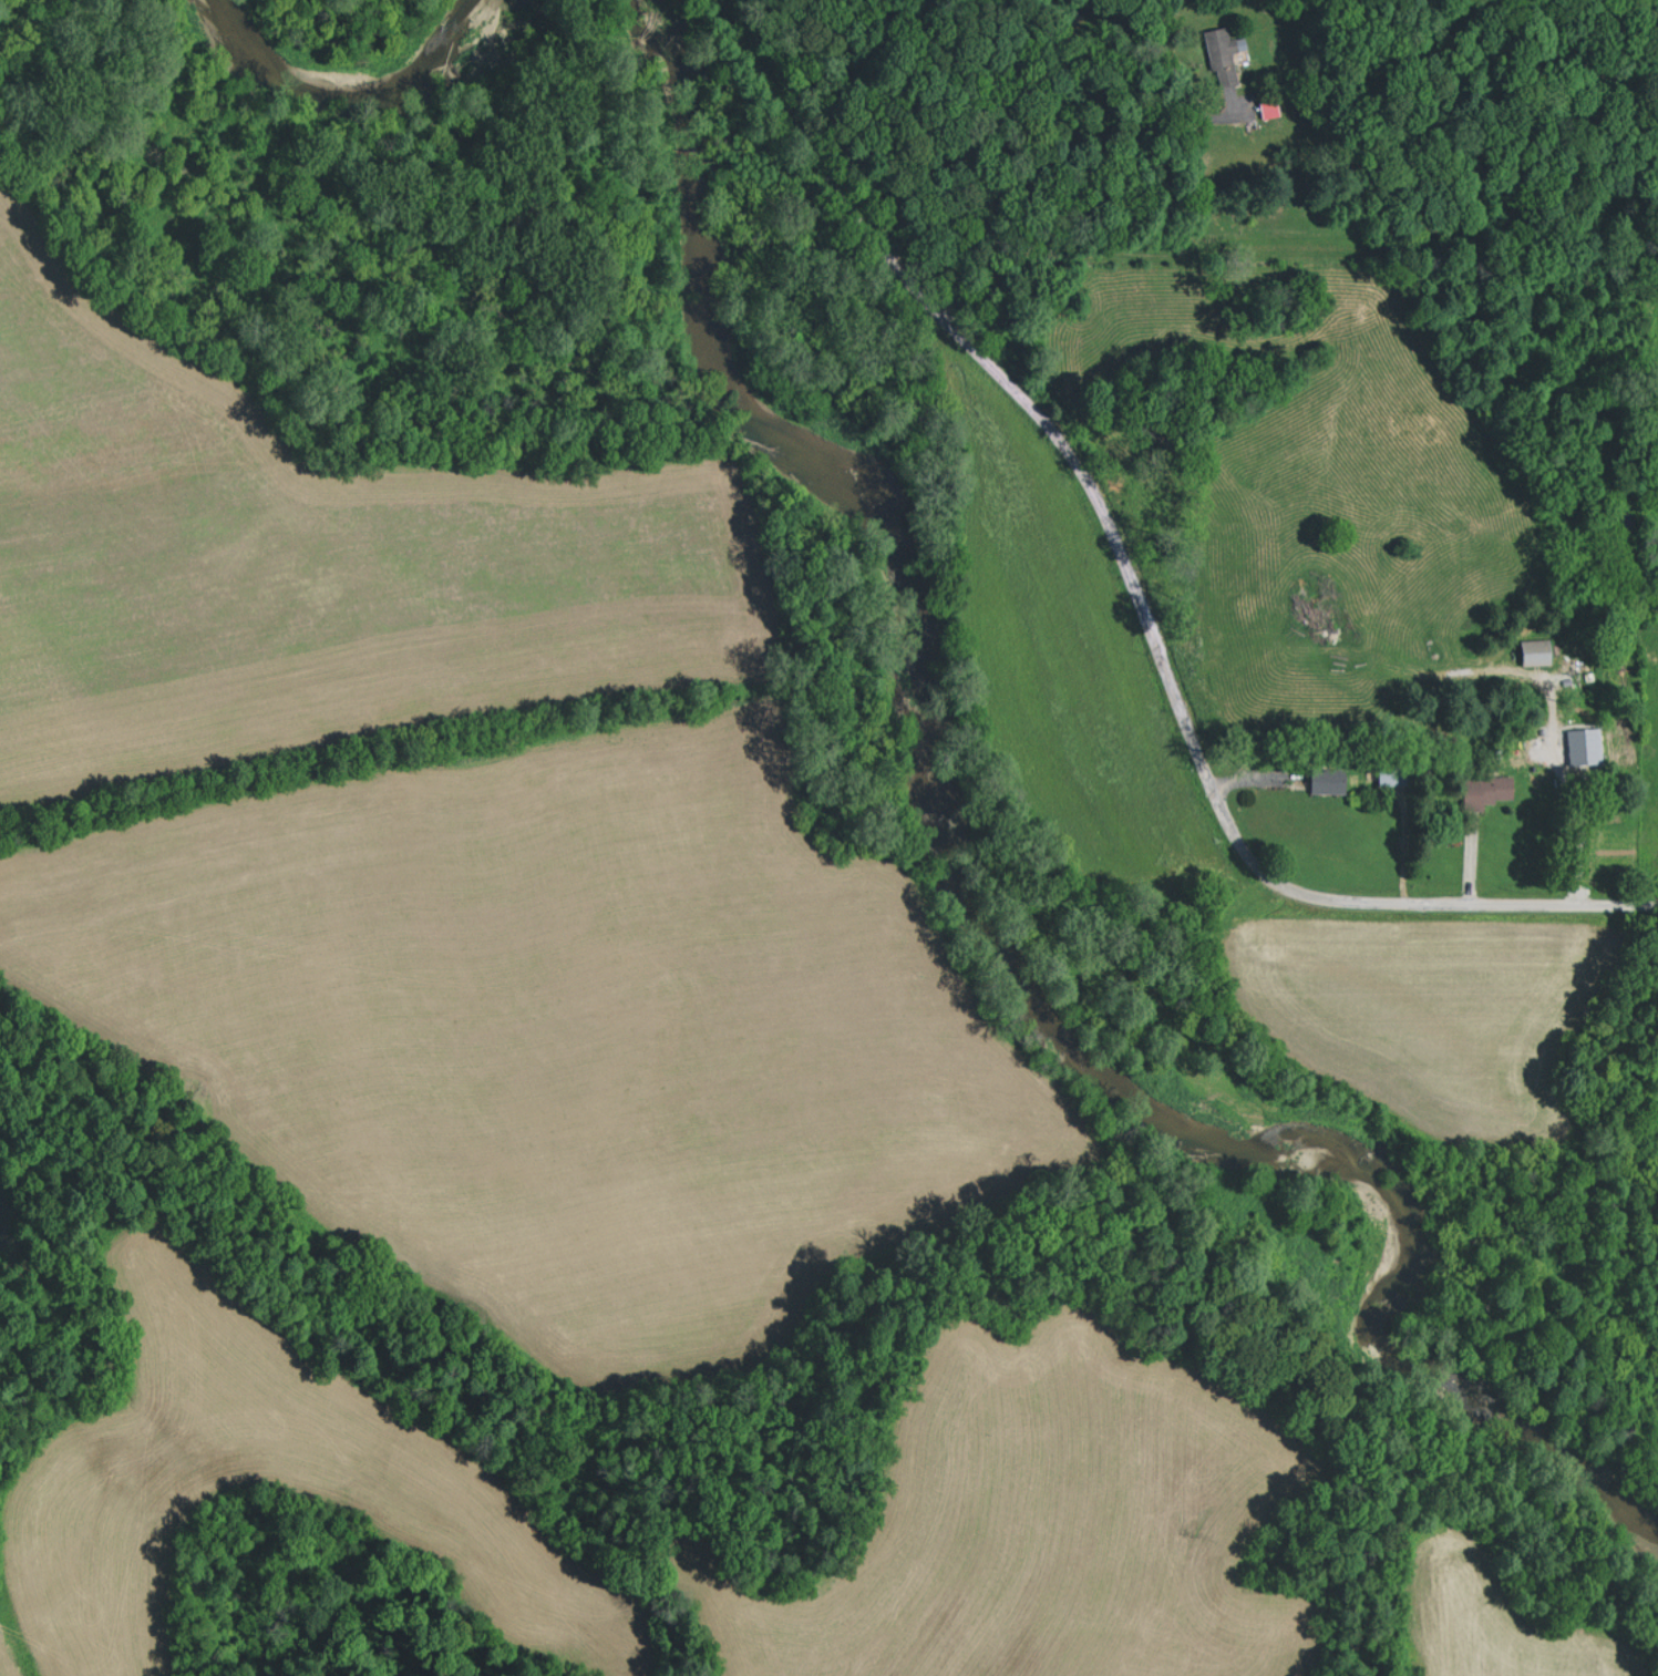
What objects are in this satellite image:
building: (1224, 54)
building: (1271, 105)
road: (1050, 432)
building: (1539, 651)
building: (1574, 744)
building: (1332, 781)
building: (1487, 791)
road: (1483, 905)

